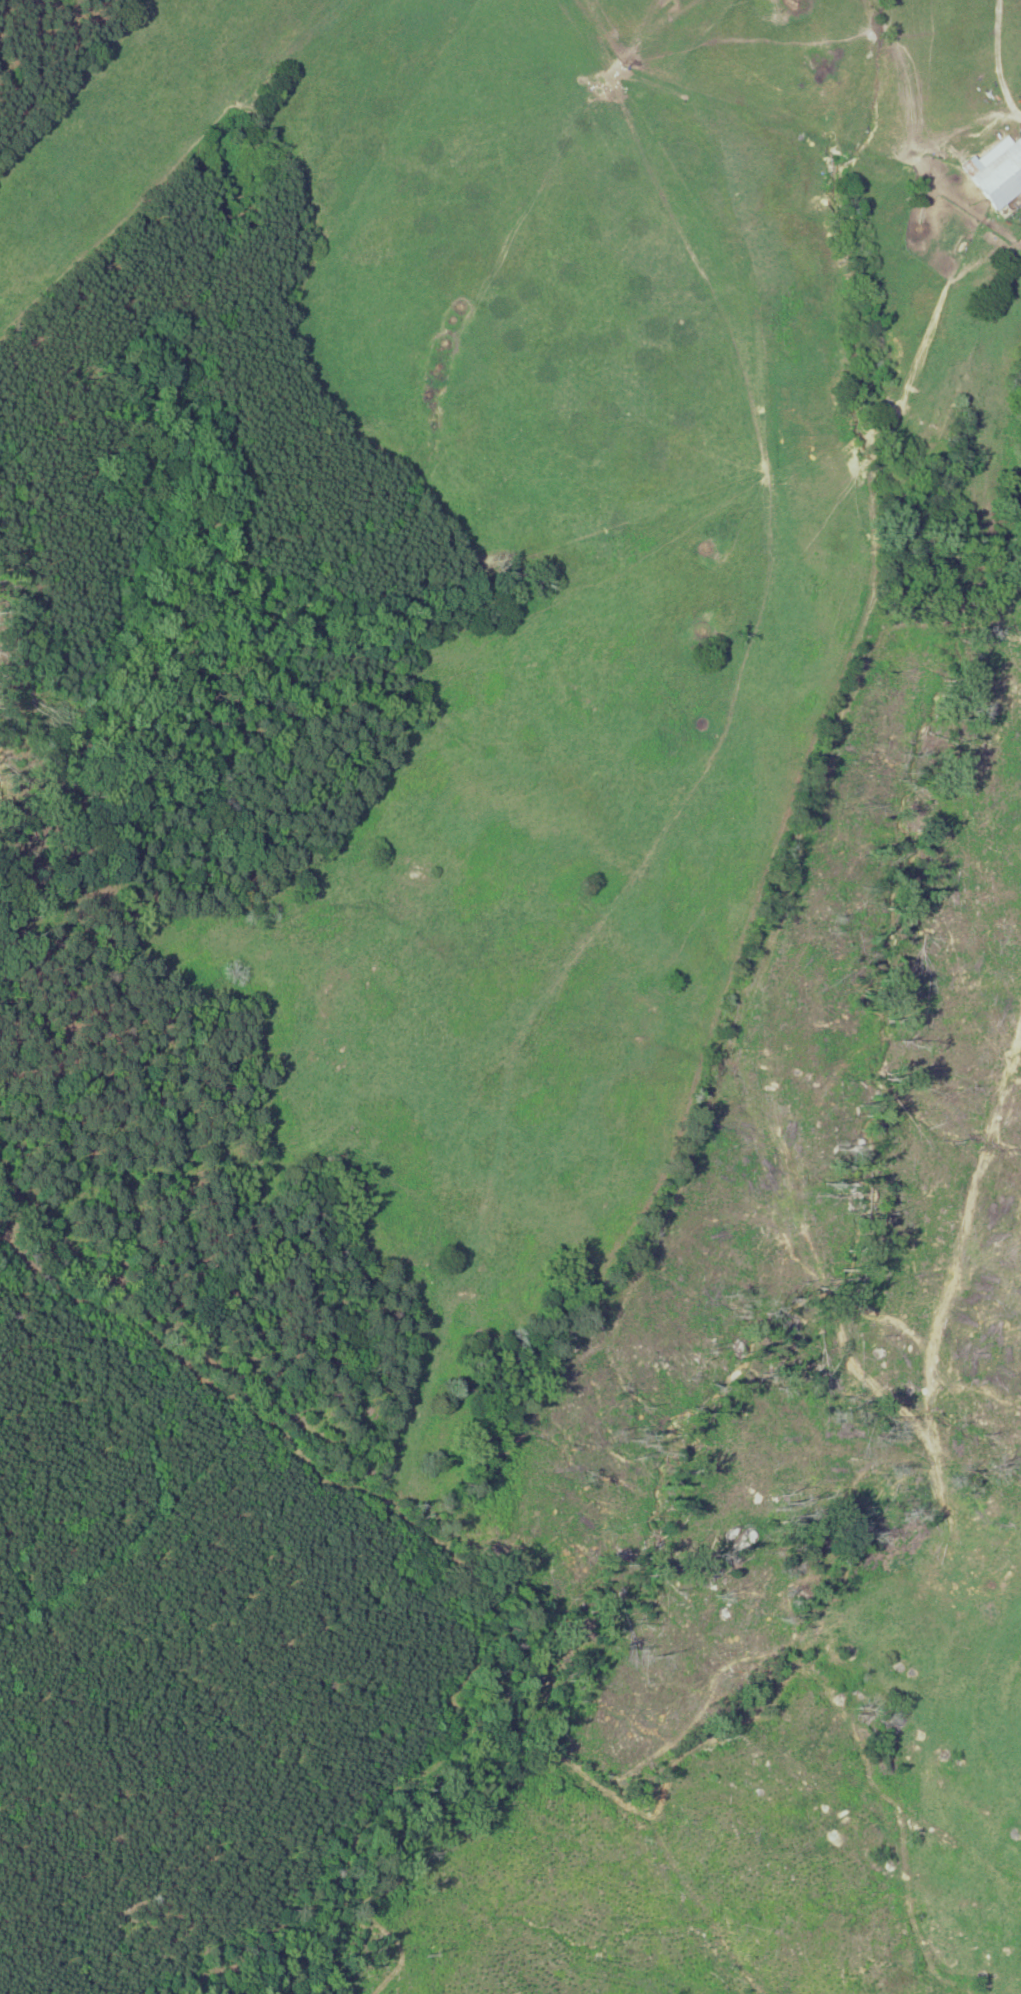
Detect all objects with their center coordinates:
building: (998, 174)

